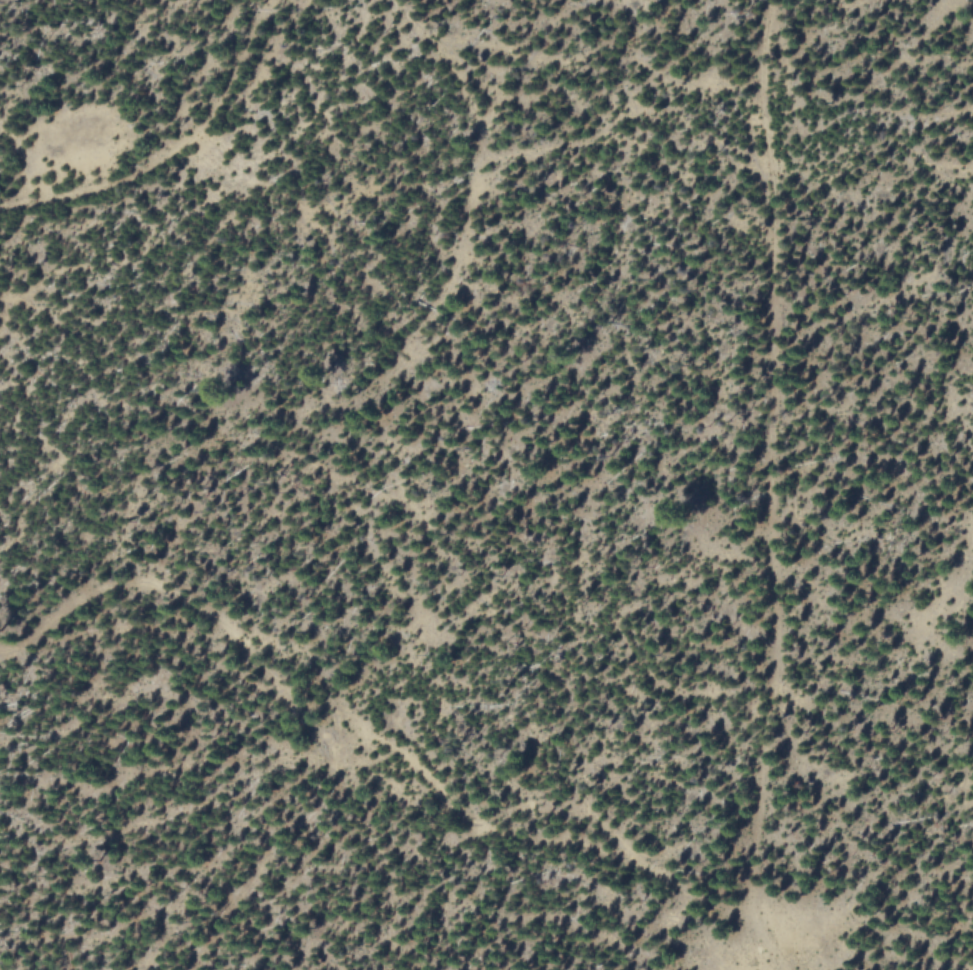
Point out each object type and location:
road: (730, 483)

